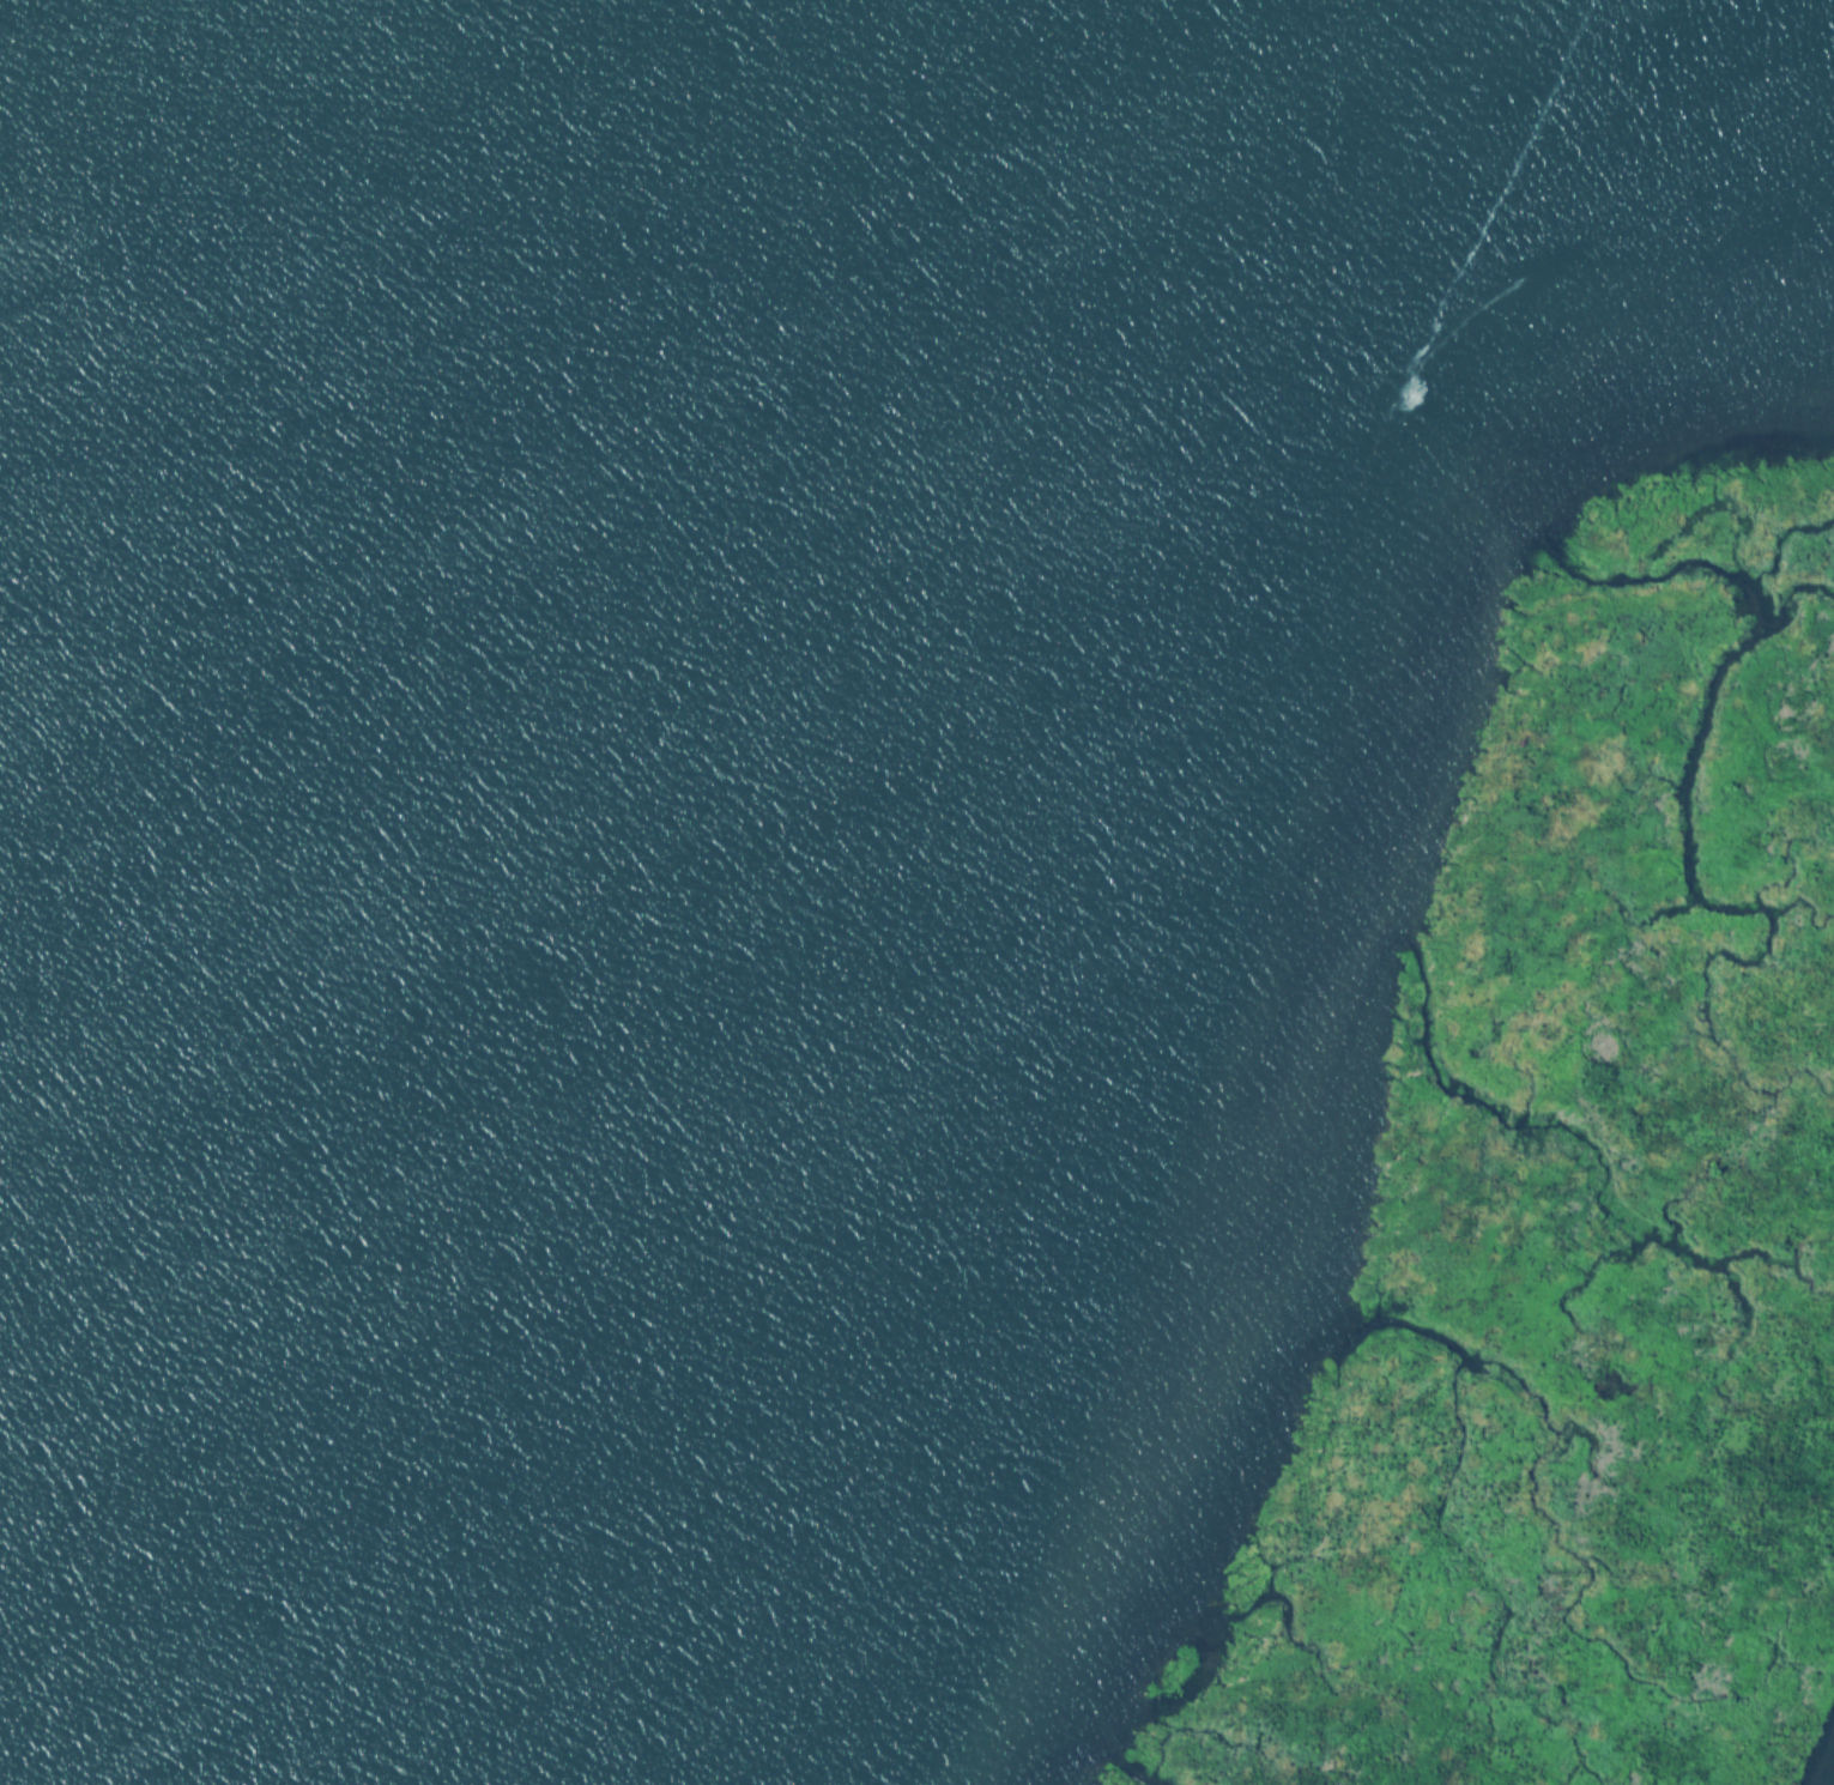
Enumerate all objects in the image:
river: (706, 11)
river: (394, 754)

